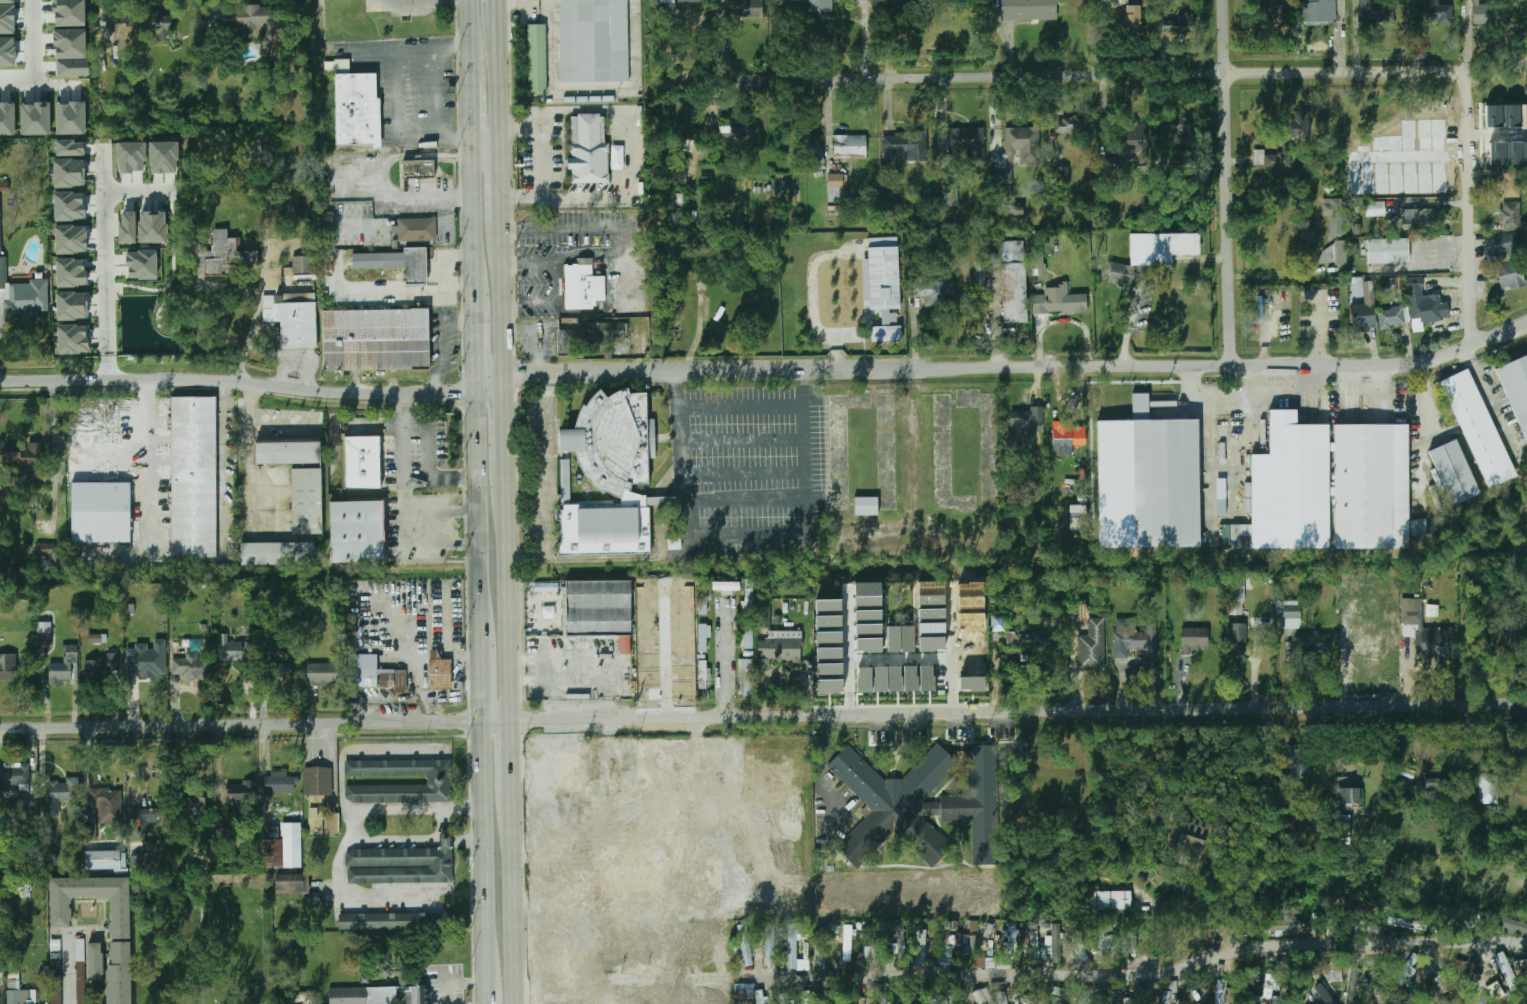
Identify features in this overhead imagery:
building: (6, 1)
building: (685, 1)
road: (412, 2)
road: (496, 2)
building: (1112, 2)
road: (215, 3)
building: (820, 6)
building: (747, 7)
building: (1029, 9)
building: (1376, 10)
building: (1319, 11)
building: (64, 12)
building: (1434, 14)
building: (1490, 14)
road: (101, 17)
building: (247, 17)
building: (6, 19)
building: (1133, 19)
building: (154, 22)
building: (1179, 24)
building: (126, 33)
road: (34, 34)
road: (470, 40)
building: (593, 40)
building: (66, 43)
building: (7, 52)
building: (537, 56)
building: (73, 68)
road: (1085, 73)
building: (1526, 83)
road: (497, 86)
road: (591, 92)
building: (356, 109)
road: (472, 110)
road: (621, 110)
road: (396, 116)
building: (1503, 116)
building: (71, 117)
building: (7, 118)
building: (35, 119)
building: (1071, 125)
building: (1180, 125)
building: (736, 126)
building: (1297, 126)
road: (518, 129)
road: (1498, 135)
building: (1415, 136)
building: (968, 144)
building: (850, 145)
building: (255, 147)
building: (69, 148)
building: (1130, 148)
building: (587, 149)
building: (1016, 149)
building: (905, 151)
building: (1508, 153)
building: (131, 156)
building: (163, 156)
road: (539, 156)
building: (817, 156)
building: (1399, 156)
building: (1272, 159)
building: (1166, 163)
building: (416, 169)
building: (69, 172)
building: (1062, 174)
road: (336, 176)
building: (679, 176)
road: (1230, 181)
building: (1510, 182)
building: (836, 186)
road: (499, 194)
building: (951, 197)
road: (520, 198)
road: (584, 198)
building: (677, 200)
building: (69, 206)
building: (1376, 209)
road: (1471, 210)
building: (676, 213)
building: (1511, 213)
road: (473, 215)
building: (1414, 220)
building: (0, 221)
building: (1338, 223)
building: (328, 226)
building: (128, 227)
building: (153, 227)
building: (415, 228)
building: (82, 233)
building: (882, 241)
building: (1165, 244)
building: (1387, 251)
building: (1341, 253)
building: (224, 254)
road: (1423, 260)
building: (1507, 262)
building: (393, 263)
building: (142, 264)
building: (303, 264)
building: (1039, 265)
road: (108, 267)
building: (71, 272)
building: (885, 278)
building: (1122, 278)
building: (160, 284)
building: (82, 287)
building: (1014, 287)
building: (583, 288)
building: (931, 292)
building: (24, 294)
building: (1338, 295)
road: (502, 297)
building: (1058, 299)
building: (72, 305)
building: (1424, 305)
building: (291, 317)
building: (1363, 317)
building: (1391, 318)
road: (0, 321)
building: (1323, 323)
building: (604, 332)
building: (886, 333)
road: (248, 334)
building: (567, 338)
building: (73, 339)
building: (374, 339)
road: (473, 341)
road: (1019, 366)
road: (237, 380)
road: (489, 382)
road: (1193, 387)
road: (1281, 387)
building: (1516, 389)
building: (1025, 421)
road: (506, 426)
building: (1479, 429)
building: (1067, 437)
road: (144, 441)
building: (286, 452)
building: (25, 462)
building: (361, 462)
building: (1454, 472)
building: (612, 475)
building: (194, 476)
road: (440, 478)
building: (1165, 479)
road: (546, 480)
building: (565, 481)
building: (1291, 486)
building: (1372, 486)
building: (1247, 497)
building: (305, 500)
road: (404, 504)
building: (866, 505)
building: (1222, 507)
road: (441, 511)
building: (101, 512)
building: (1078, 517)
road: (478, 518)
building: (356, 531)
road: (792, 532)
building: (674, 542)
building: (46, 549)
building: (276, 553)
building: (726, 586)
building: (546, 587)
building: (971, 589)
building: (1237, 589)
building: (931, 593)
building: (868, 594)
building: (667, 596)
building: (749, 597)
building: (687, 598)
road: (508, 599)
building: (703, 599)
building: (971, 603)
building: (598, 606)
building: (828, 606)
building: (764, 613)
building: (932, 614)
building: (868, 615)
building: (1292, 616)
building: (971, 619)
building: (829, 621)
building: (932, 628)
building: (869, 629)
building: (1427, 630)
building: (645, 633)
building: (44, 634)
building: (748, 634)
building: (971, 635)
building: (1133, 636)
building: (703, 637)
building: (829, 637)
building: (97, 638)
building: (1240, 638)
road: (414, 639)
building: (901, 639)
building: (1194, 639)
building: (1035, 640)
building: (931, 643)
building: (1315, 643)
building: (1493, 643)
building: (625, 644)
building: (869, 644)
building: (781, 646)
building: (1093, 646)
building: (1368, 646)
building: (230, 649)
building: (248, 649)
road: (952, 650)
building: (972, 651)
road: (849, 652)
building: (150, 653)
road: (666, 653)
building: (829, 654)
road: (901, 659)
road: (723, 660)
building: (186, 663)
building: (763, 664)
building: (972, 667)
building: (65, 668)
building: (100, 668)
building: (7, 670)
building: (370, 670)
building: (829, 670)
building: (688, 671)
building: (278, 672)
building: (324, 673)
building: (439, 673)
building: (702, 673)
building: (649, 676)
building: (745, 677)
building: (910, 678)
building: (926, 678)
building: (880, 679)
building: (894, 679)
building: (864, 680)
road: (1255, 680)
road: (482, 684)
building: (972, 684)
building: (830, 686)
road: (763, 716)
road: (362, 748)
building: (1514, 748)
road: (511, 758)
building: (1296, 763)
building: (567, 771)
road: (220, 772)
road: (43, 773)
building: (15, 778)
building: (438, 780)
building: (600, 780)
building: (281, 782)
building: (1433, 785)
building: (1488, 789)
building: (241, 792)
building: (63, 797)
building: (190, 797)
building: (1348, 797)
building: (319, 801)
building: (108, 803)
building: (894, 803)
building: (978, 805)
road: (396, 807)
road: (444, 819)
building: (147, 820)
building: (1342, 829)
building: (89, 832)
building: (50, 836)
road: (444, 836)
building: (1191, 837)
road: (395, 838)
road: (468, 838)
road: (445, 839)
building: (282, 847)
building: (151, 853)
road: (485, 854)
building: (634, 858)
building: (105, 860)
building: (740, 862)
building: (401, 864)
building: (290, 885)
building: (1, 892)
building: (1108, 898)
road: (514, 899)
road: (354, 900)
building: (585, 903)
building: (61, 913)
building: (395, 921)
building: (1403, 922)
building: (1279, 923)
building: (1510, 924)
building: (564, 925)
building: (1365, 925)
building: (987, 930)
building: (644, 931)
building: (1105, 937)
building: (537, 940)
building: (1011, 940)
building: (1076, 940)
building: (847, 942)
building: (769, 943)
building: (1030, 943)
building: (1052, 943)
building: (745, 945)
building: (823, 945)
building: (921, 947)
building: (949, 948)
building: (794, 949)
building: (872, 954)
building: (385, 959)
building: (95, 961)
building: (979, 961)
building: (1504, 965)
building: (1, 966)
building: (1406, 967)
building: (1520, 967)
road: (67, 969)
building: (80, 971)
building: (1332, 971)
road: (1140, 972)
building: (119, 973)
building: (56, 981)
building: (1270, 985)
building: (1351, 988)
building: (1438, 988)
building: (744, 990)
building: (1223, 991)
building: (881, 994)
building: (1323, 994)
building: (1379, 994)
building: (2, 995)
building: (379, 995)
road: (488, 995)
building: (625, 995)
building: (1056, 995)
building: (982, 996)
building: (1145, 996)
building: (21, 997)
building: (761, 997)
building: (807, 997)
building: (1002, 997)
building: (1082, 997)
building: (786, 1000)
building: (855, 1000)
building: (1123, 1000)
building: (401, 1003)

